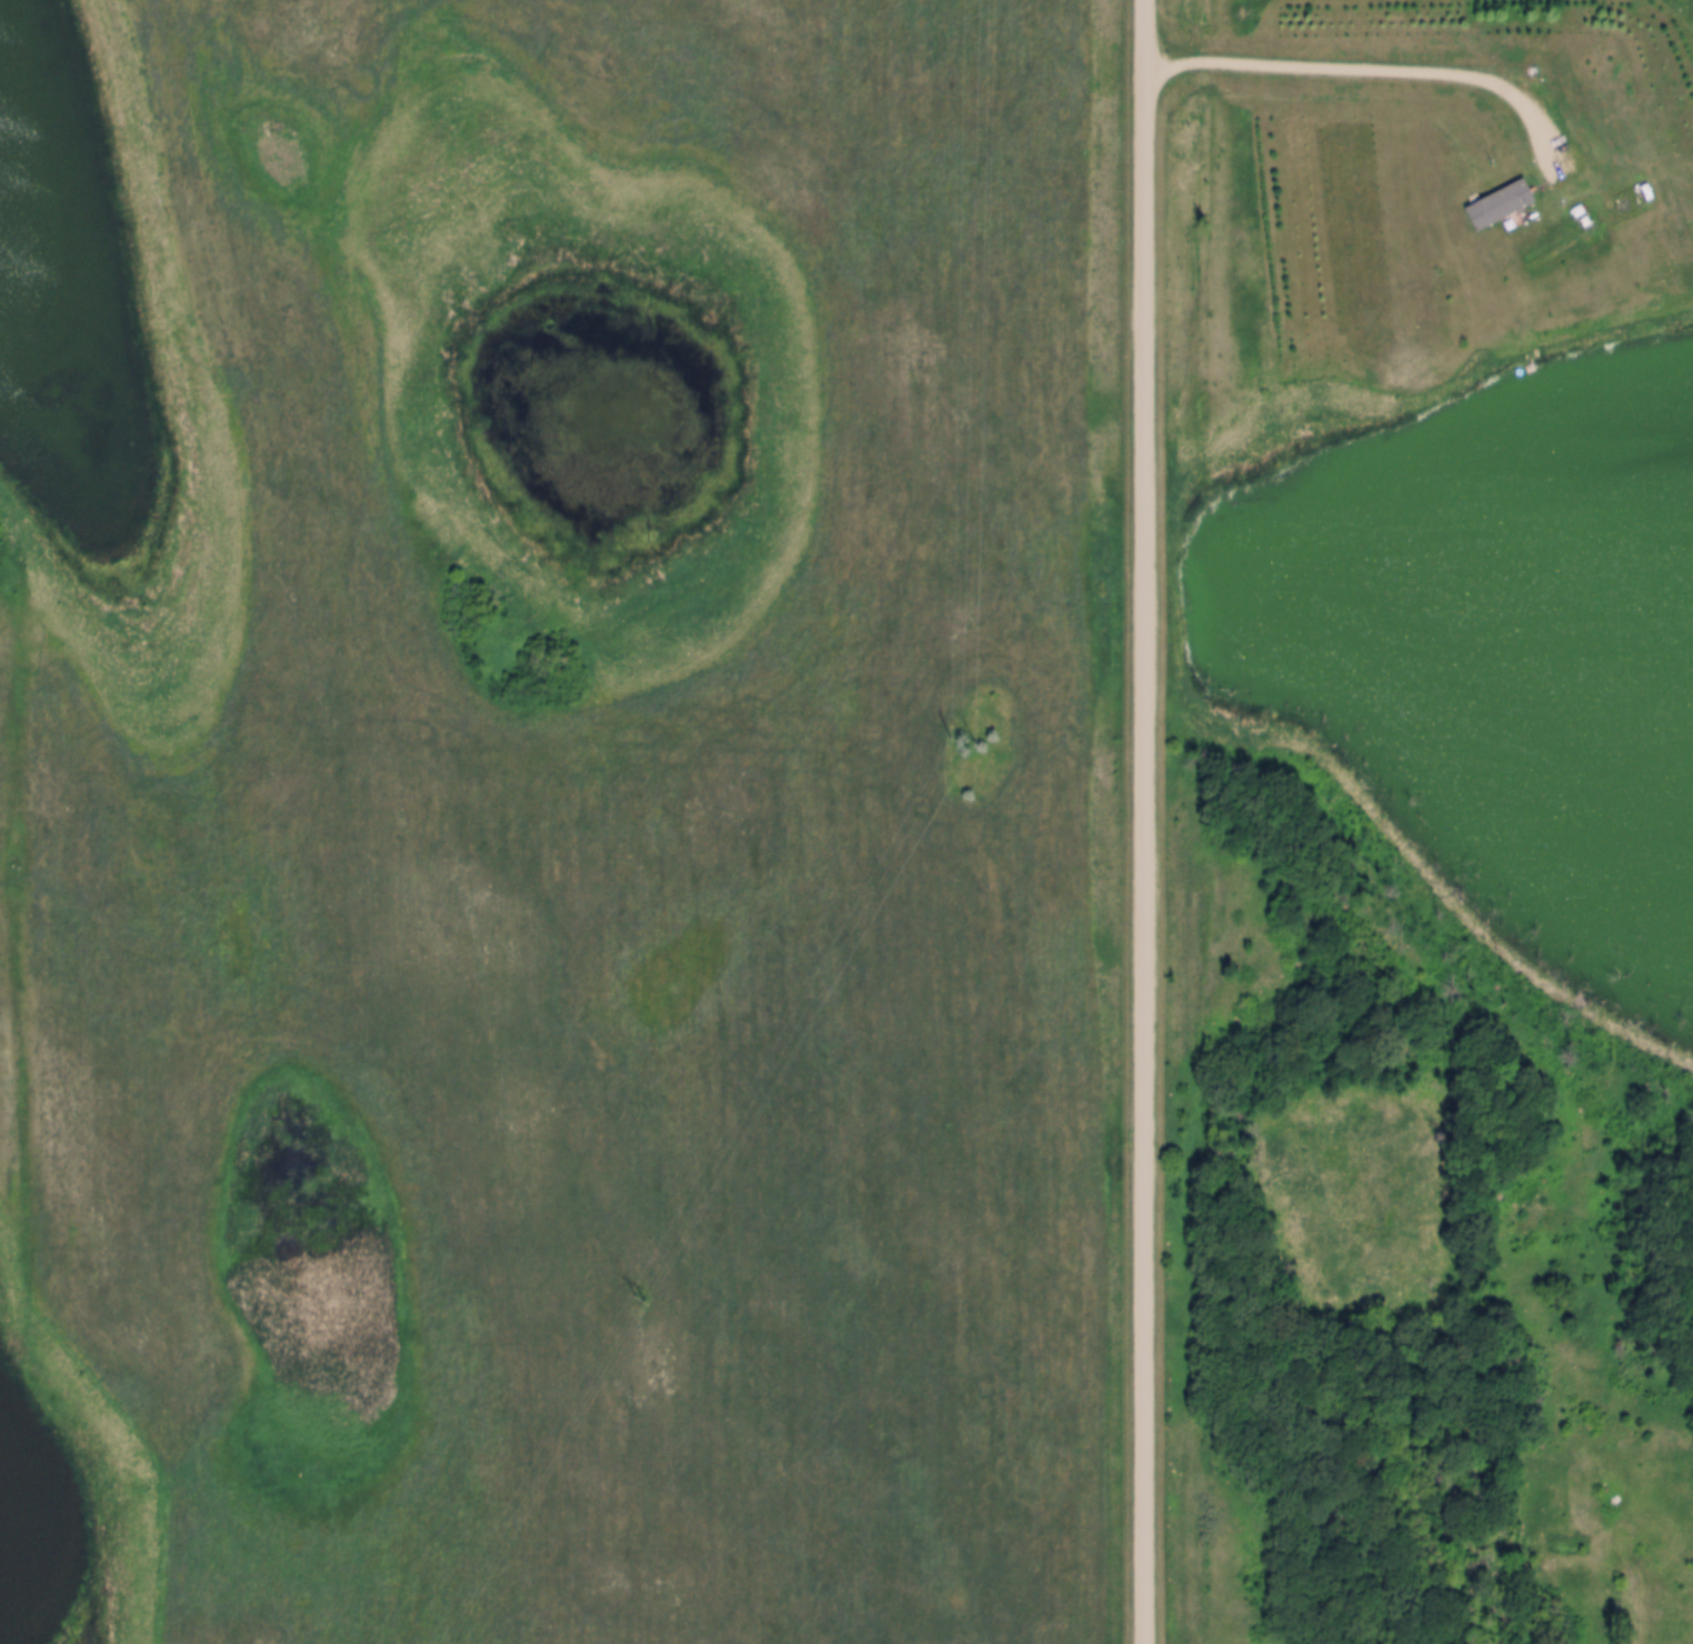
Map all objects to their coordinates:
building: (1482, 194)
road: (1143, 821)

